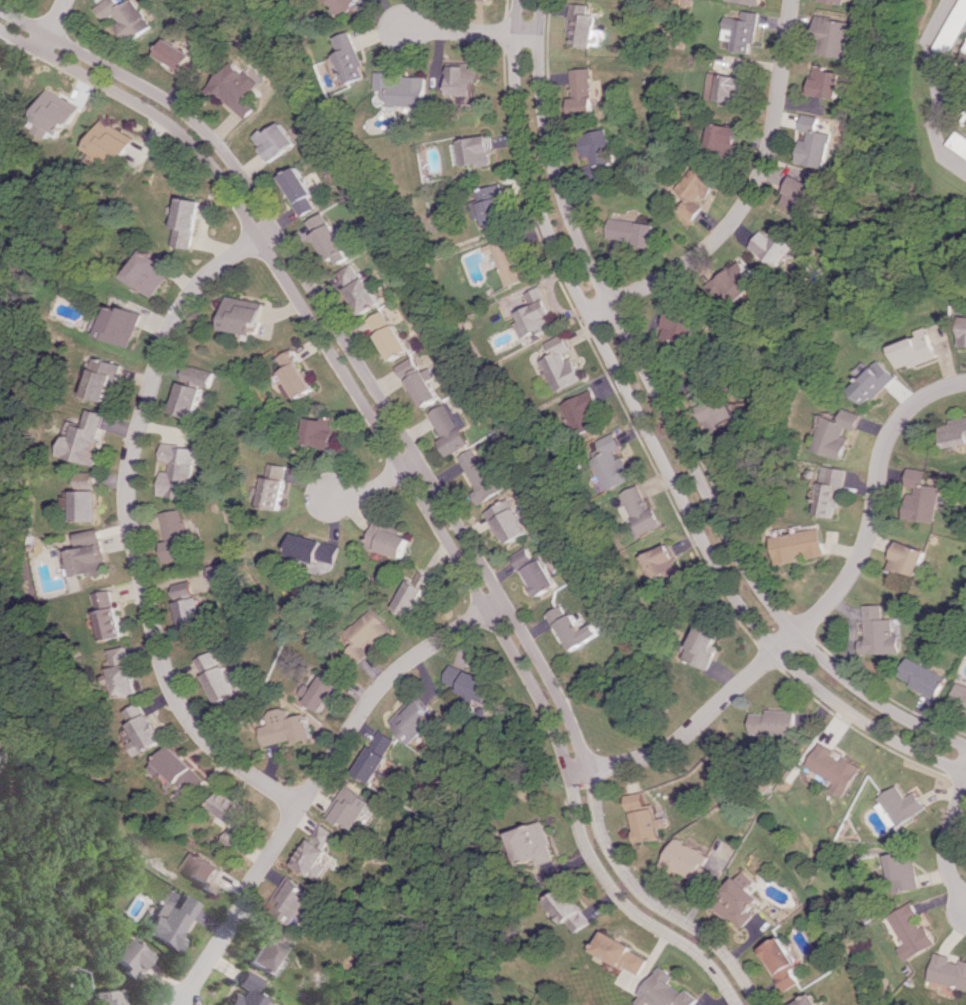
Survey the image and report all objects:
building: (748, 1)
building: (837, 1)
building: (348, 5)
building: (125, 17)
road: (51, 24)
building: (585, 25)
road: (472, 31)
building: (742, 31)
building: (836, 36)
building: (958, 36)
building: (177, 57)
building: (352, 58)
building: (466, 79)
building: (828, 81)
building: (731, 85)
road: (942, 86)
building: (406, 88)
building: (234, 89)
building: (584, 92)
road: (954, 93)
building: (53, 114)
building: (724, 138)
building: (275, 140)
building: (962, 141)
building: (110, 142)
building: (816, 142)
building: (479, 150)
building: (601, 152)
building: (299, 190)
building: (696, 190)
building: (803, 195)
road: (748, 196)
building: (494, 205)
building: (187, 222)
building: (633, 231)
building: (329, 239)
building: (778, 245)
building: (512, 260)
building: (150, 271)
building: (348, 273)
building: (736, 282)
building: (363, 295)
building: (537, 314)
building: (242, 315)
building: (122, 325)
building: (682, 327)
building: (964, 331)
building: (388, 334)
building: (918, 349)
building: (563, 363)
building: (296, 374)
building: (198, 376)
building: (105, 379)
building: (875, 382)
building: (424, 386)
building: (188, 399)
building: (715, 409)
building: (584, 412)
road: (671, 423)
building: (450, 427)
building: (318, 432)
building: (956, 432)
building: (840, 433)
building: (87, 438)
road: (653, 441)
building: (614, 462)
road: (425, 469)
building: (178, 470)
building: (484, 475)
road: (412, 481)
building: (273, 485)
road: (373, 489)
building: (832, 491)
building: (920, 496)
building: (89, 497)
building: (643, 510)
road: (128, 520)
building: (508, 521)
building: (177, 535)
building: (388, 540)
building: (800, 545)
building: (313, 549)
building: (92, 554)
building: (907, 557)
building: (664, 563)
building: (537, 572)
building: (220, 573)
building: (414, 593)
building: (191, 606)
road: (816, 614)
building: (111, 615)
building: (576, 629)
building: (878, 632)
building: (367, 634)
building: (706, 646)
building: (122, 656)
building: (222, 677)
building: (923, 678)
building: (128, 680)
building: (473, 682)
building: (319, 692)
building: (960, 697)
building: (417, 720)
building: (774, 722)
building: (284, 727)
building: (145, 730)
building: (378, 756)
building: (834, 768)
building: (181, 770)
road: (316, 779)
building: (903, 805)
building: (229, 807)
building: (356, 808)
building: (646, 818)
building: (327, 834)
road: (948, 843)
building: (539, 844)
building: (318, 859)
building: (692, 863)
building: (903, 871)
building: (202, 872)
building: (739, 899)
building: (295, 902)
building: (576, 910)
building: (167, 921)
building: (911, 931)
building: (262, 945)
building: (624, 953)
building: (125, 954)
building: (782, 963)
building: (947, 971)
building: (242, 991)
building: (667, 991)
building: (103, 997)
building: (808, 1000)

